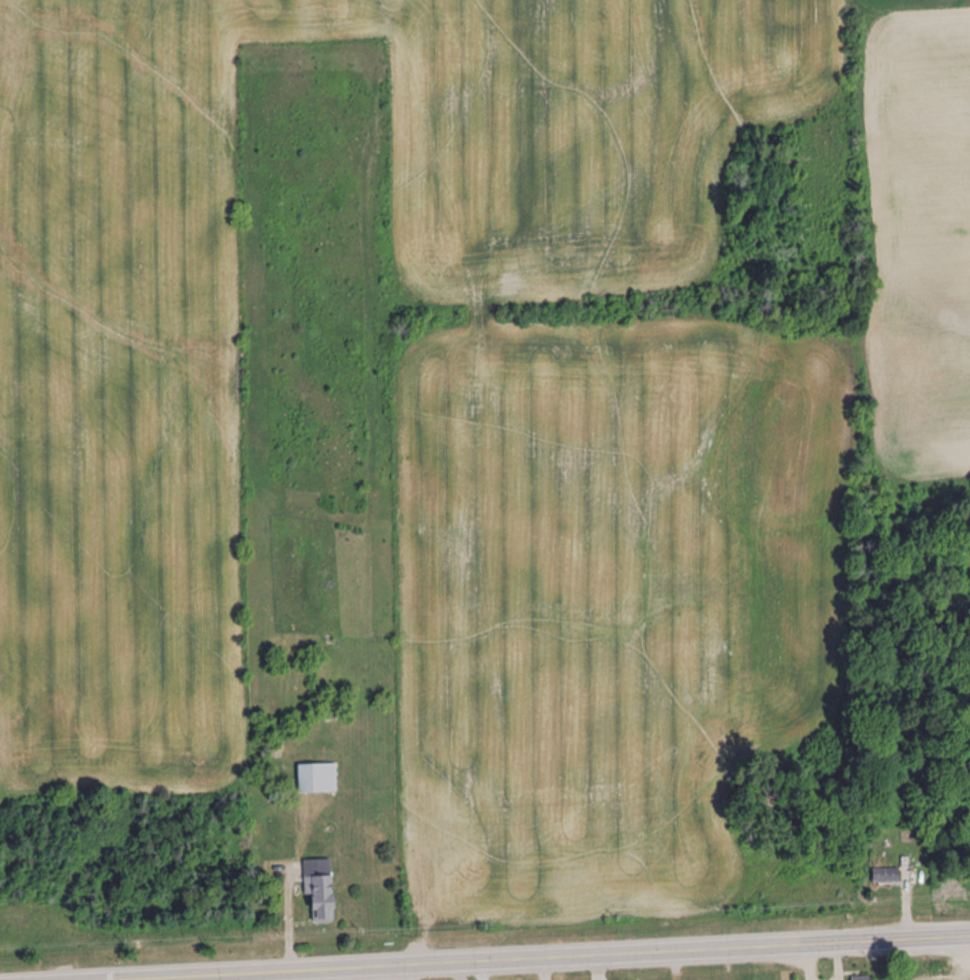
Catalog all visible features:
building: (318, 779)
building: (886, 876)
building: (321, 889)
road: (944, 934)
road: (484, 958)
building: (862, 978)

